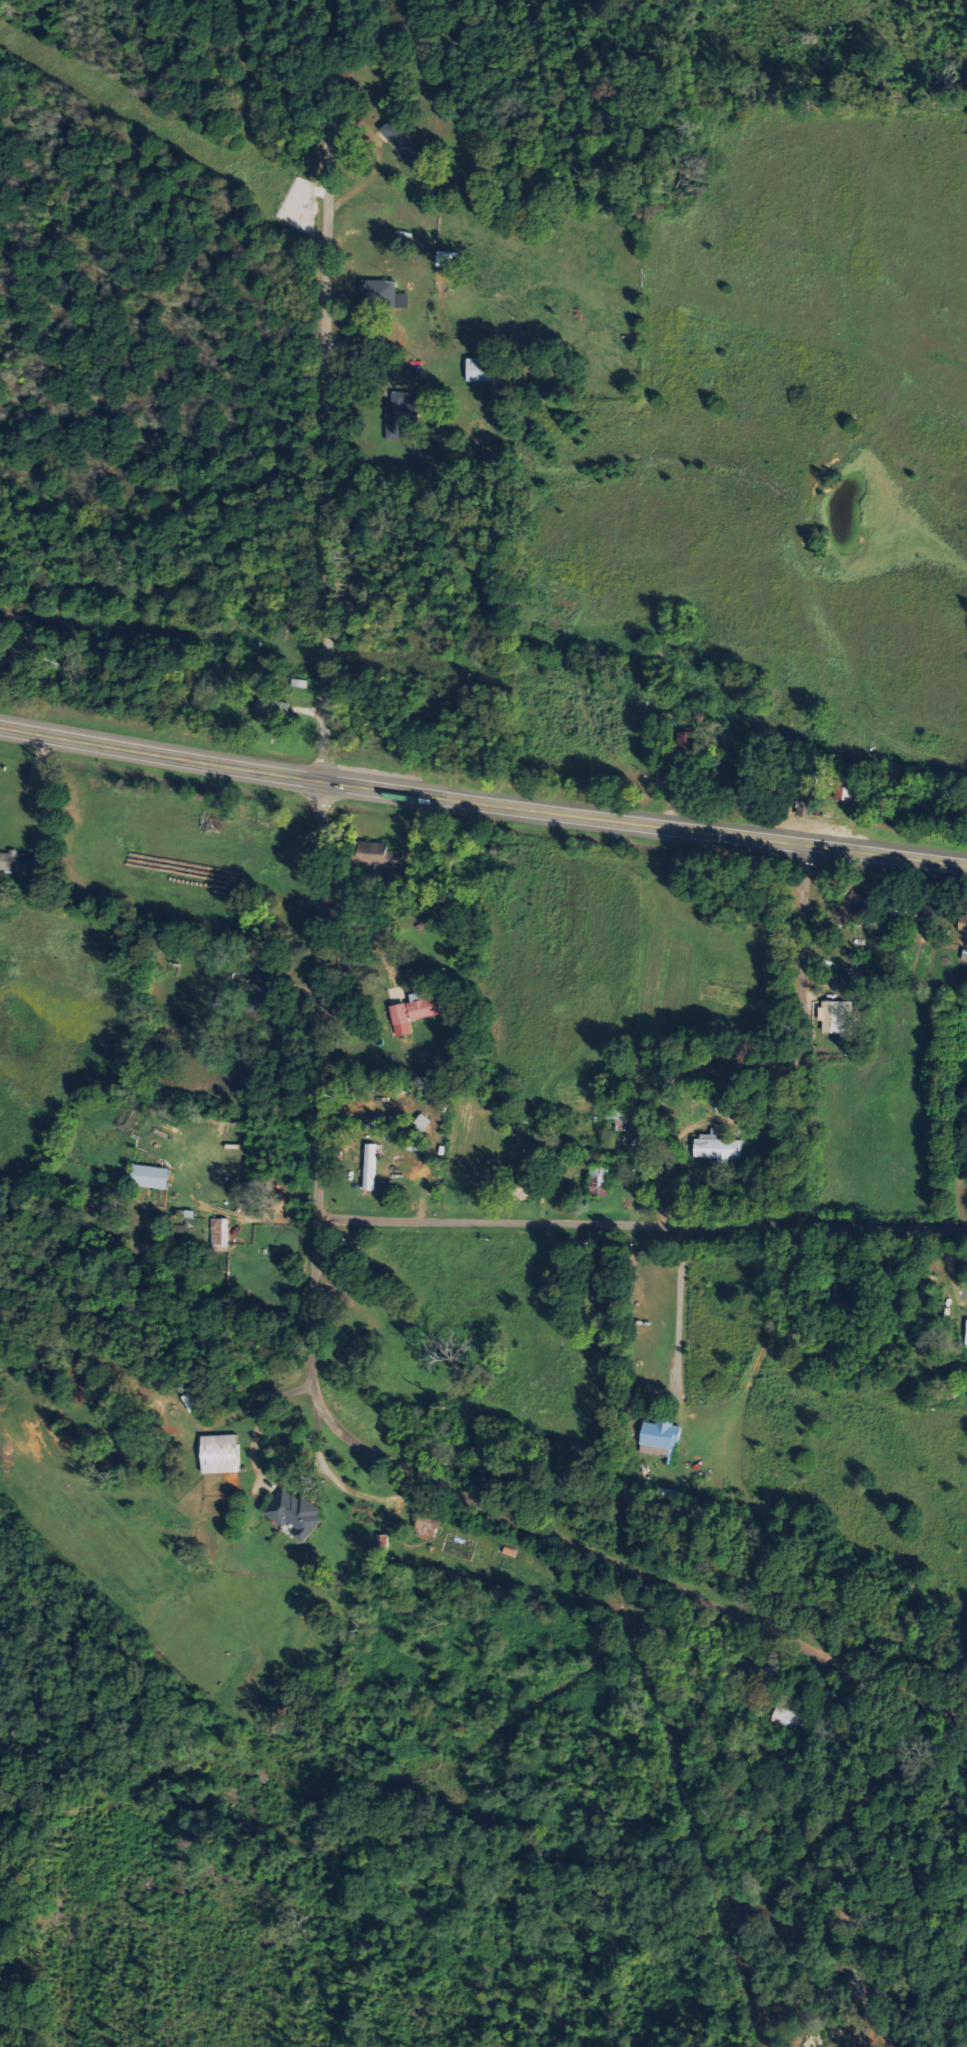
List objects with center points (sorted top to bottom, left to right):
building: (407, 143)
building: (449, 258)
building: (382, 294)
building: (482, 368)
road: (328, 393)
building: (403, 414)
building: (272, 709)
building: (688, 742)
building: (844, 786)
building: (807, 801)
road: (481, 803)
building: (381, 855)
building: (22, 861)
building: (963, 922)
building: (261, 993)
building: (415, 1011)
building: (837, 1016)
road: (797, 1034)
building: (617, 1113)
building: (720, 1149)
building: (371, 1166)
building: (152, 1176)
road: (642, 1226)
building: (220, 1231)
building: (602, 1283)
building: (848, 1290)
building: (966, 1335)
building: (662, 1432)
building: (656, 1450)
building: (222, 1453)
road: (437, 1494)
building: (296, 1513)
building: (428, 1526)
building: (382, 1543)
building: (785, 1717)

